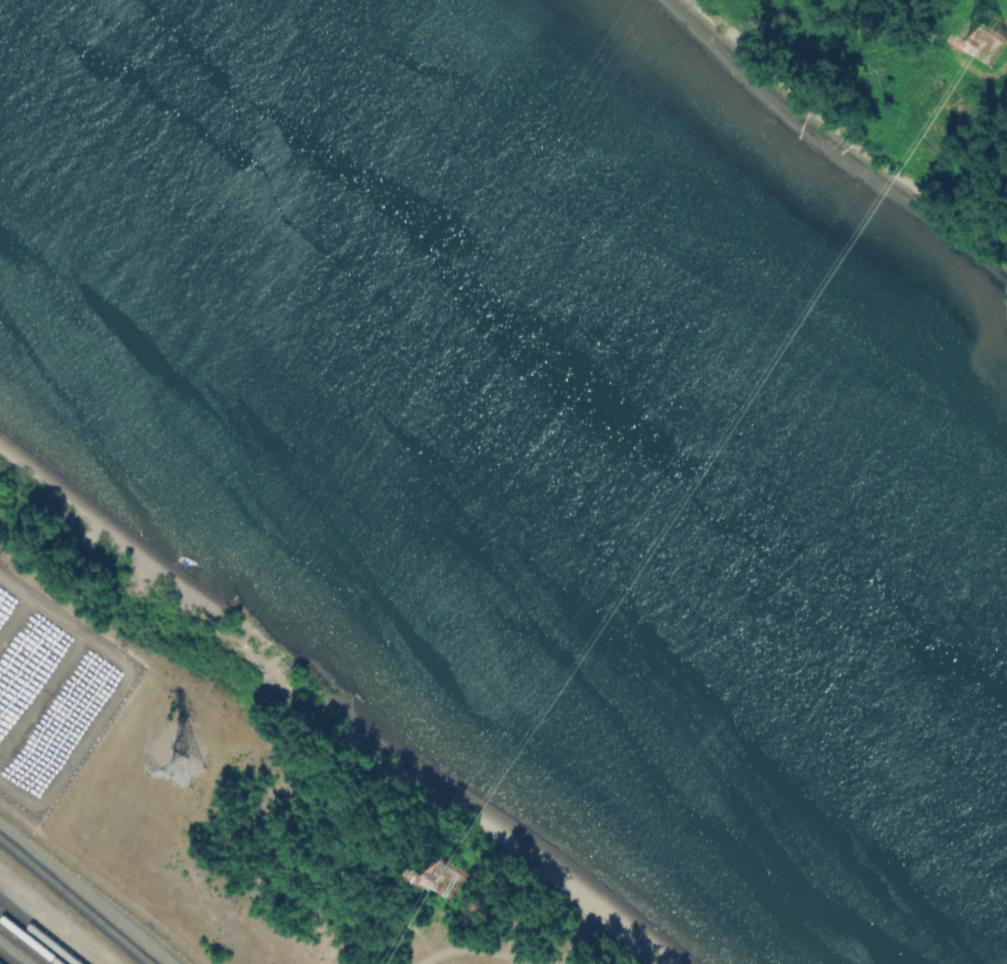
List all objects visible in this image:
power tower: (984, 49)
river: (537, 371)
power tower: (185, 770)
power tower: (445, 877)
railway: (73, 902)
railway: (38, 934)
railway: (28, 941)
railway: (19, 948)
railway: (5, 959)

